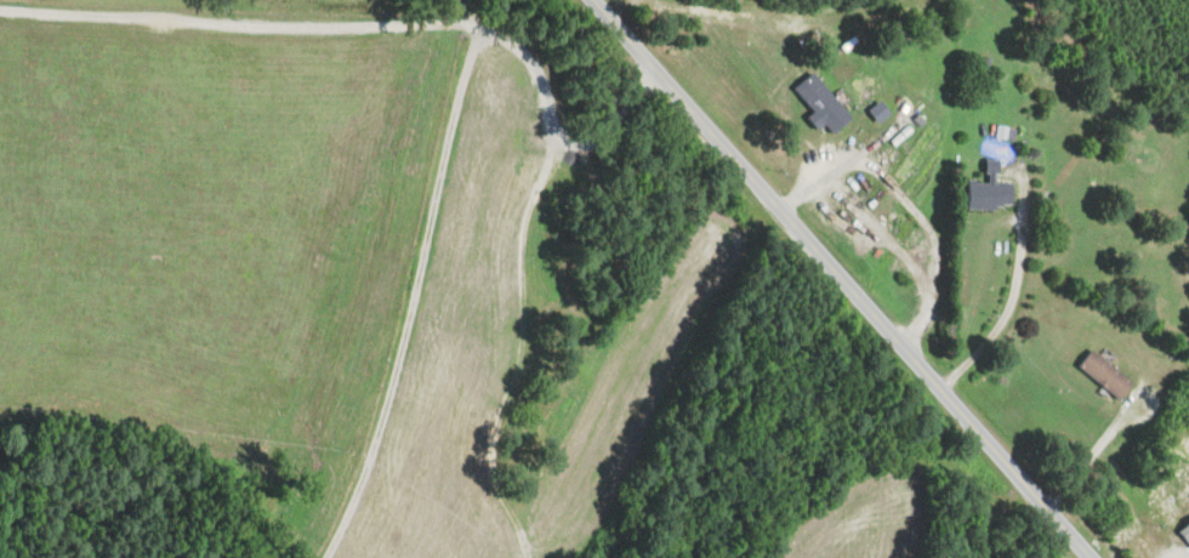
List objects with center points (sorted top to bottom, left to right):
crop: (402, 2)
road: (467, 11)
road: (237, 19)
building: (818, 103)
building: (881, 110)
road: (846, 160)
building: (576, 178)
building: (985, 192)
crop: (217, 235)
road: (931, 240)
road: (518, 277)
road: (840, 278)
road: (413, 296)
road: (1006, 311)
crop: (450, 351)
building: (1102, 375)
crop: (633, 391)
road: (1093, 449)
road: (895, 472)
crop: (864, 525)

